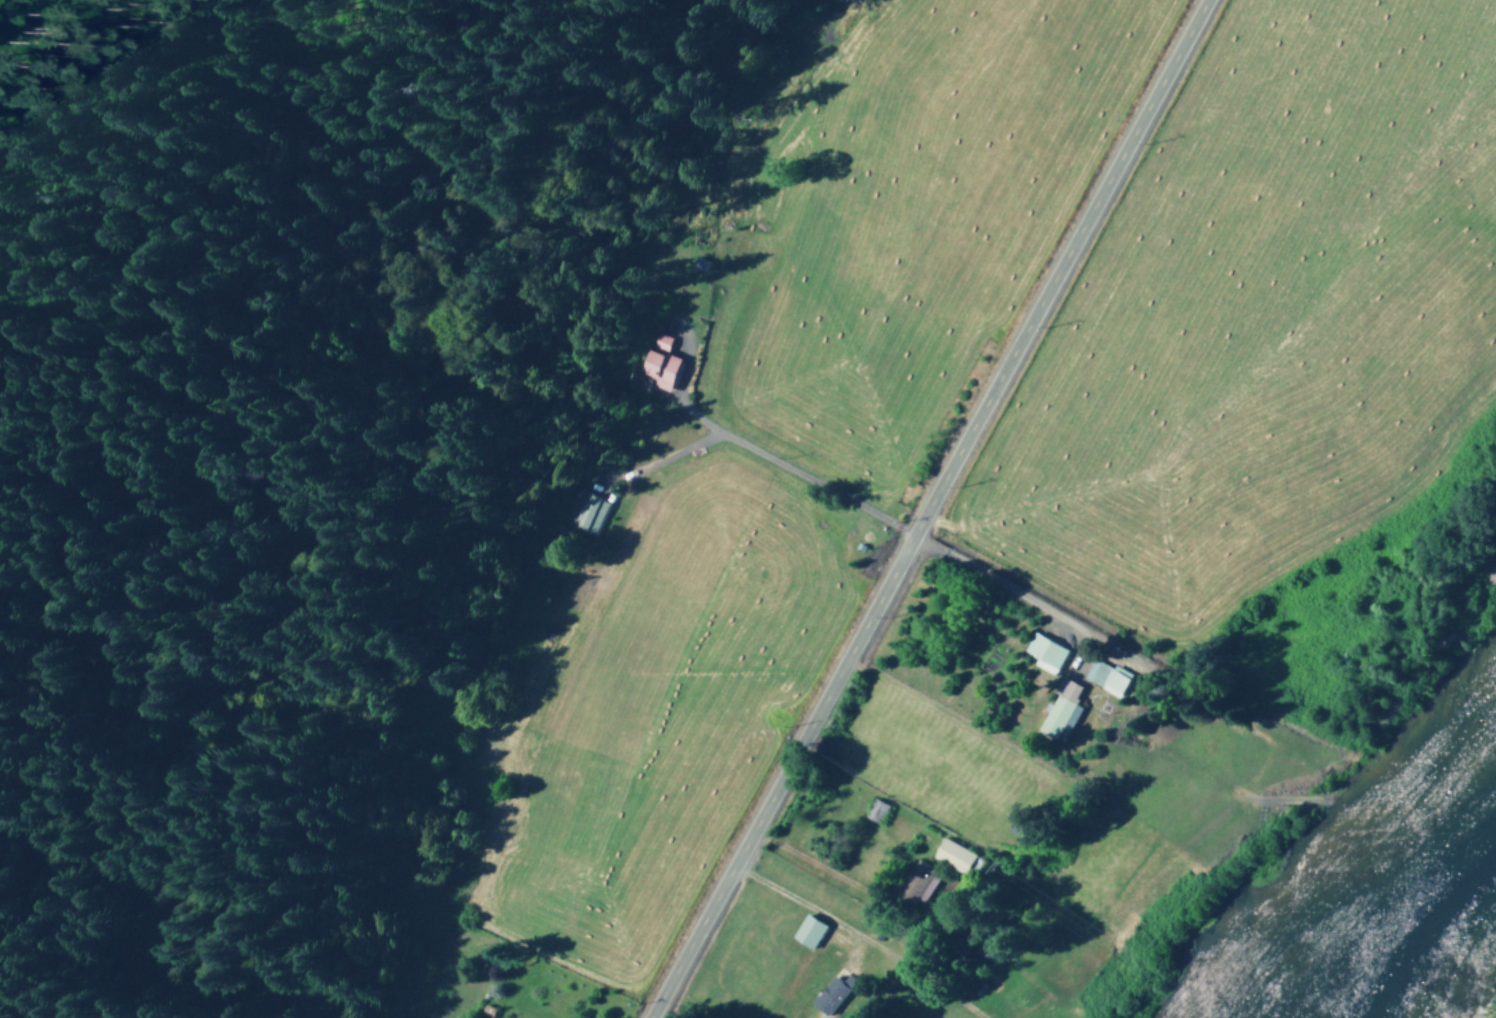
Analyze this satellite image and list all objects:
building: (659, 342)
building: (656, 368)
road: (928, 508)
building: (583, 512)
building: (1043, 653)
building: (1105, 677)
building: (1059, 710)
building: (873, 810)
building: (951, 855)
building: (917, 878)
river: (1417, 924)
building: (805, 931)
building: (829, 994)

